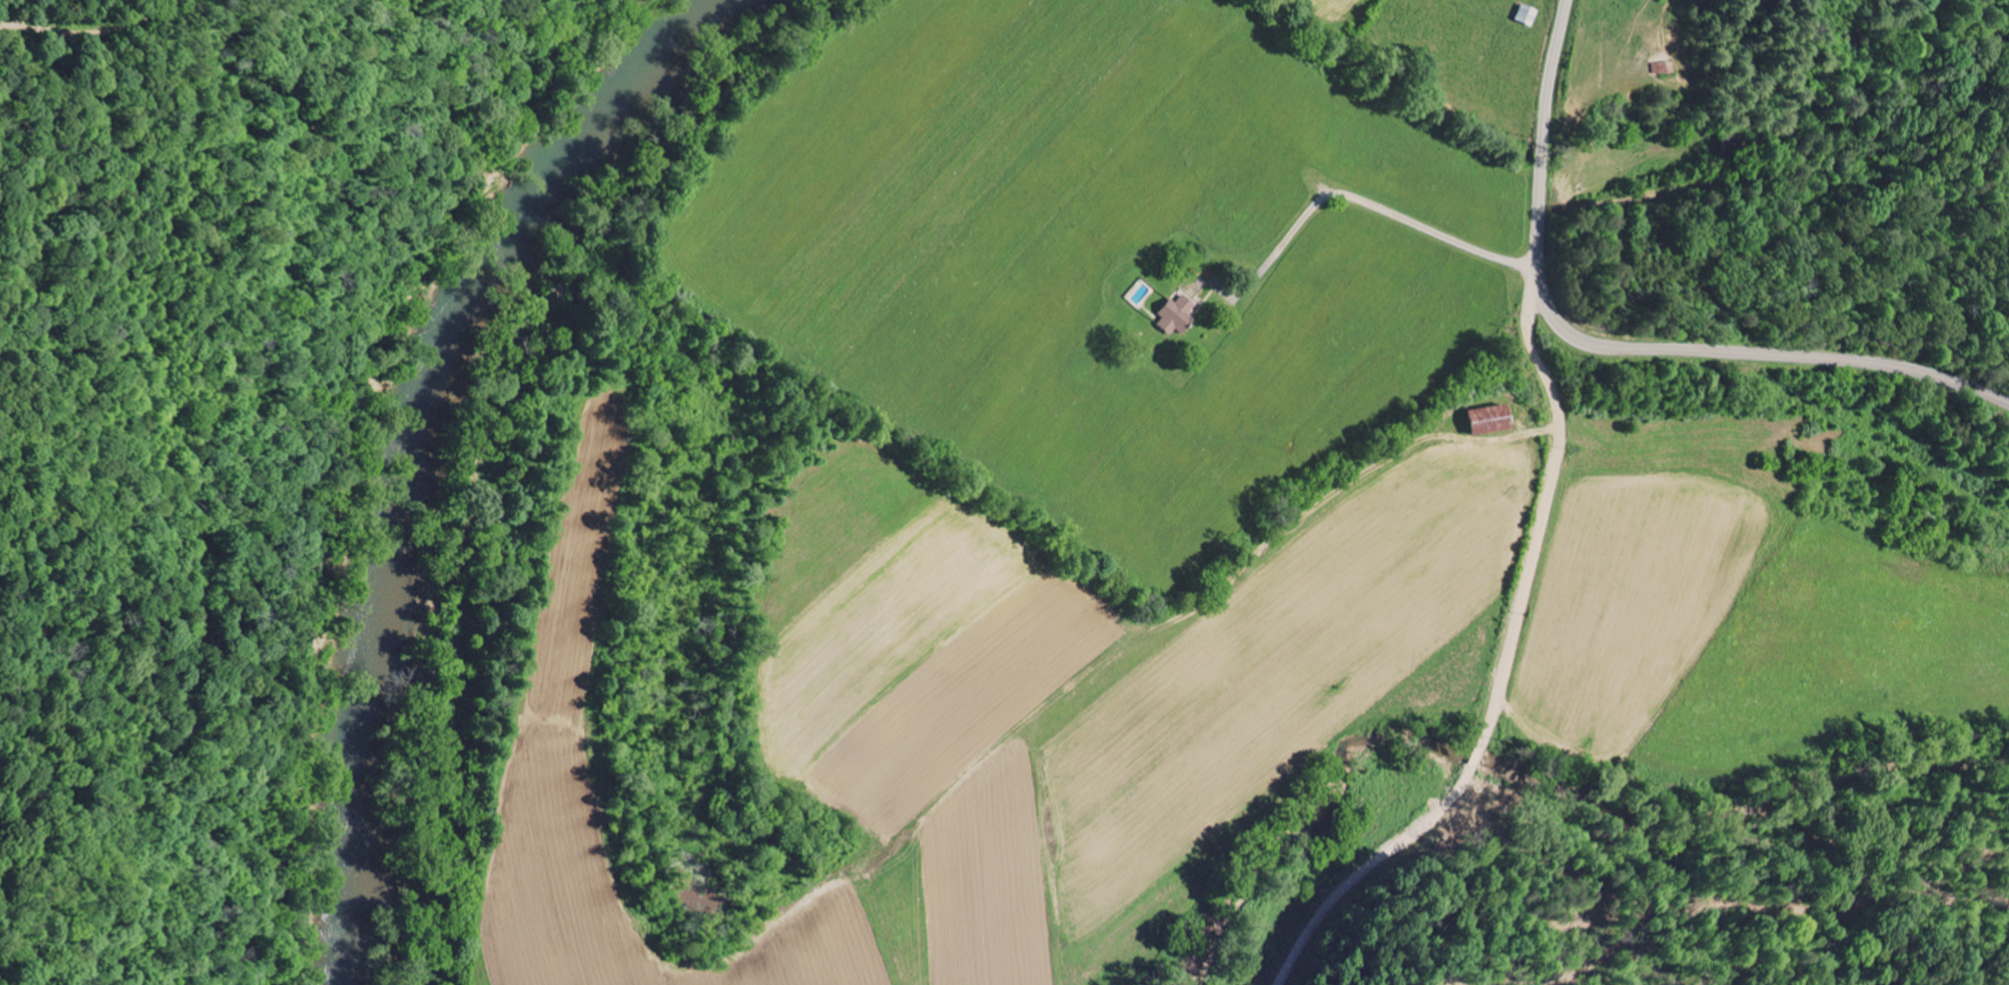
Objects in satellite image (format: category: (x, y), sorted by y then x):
road: (87, 31)
building: (1658, 68)
building: (1173, 314)
road: (1619, 347)
building: (1486, 419)
river: (412, 440)
road: (1506, 660)

